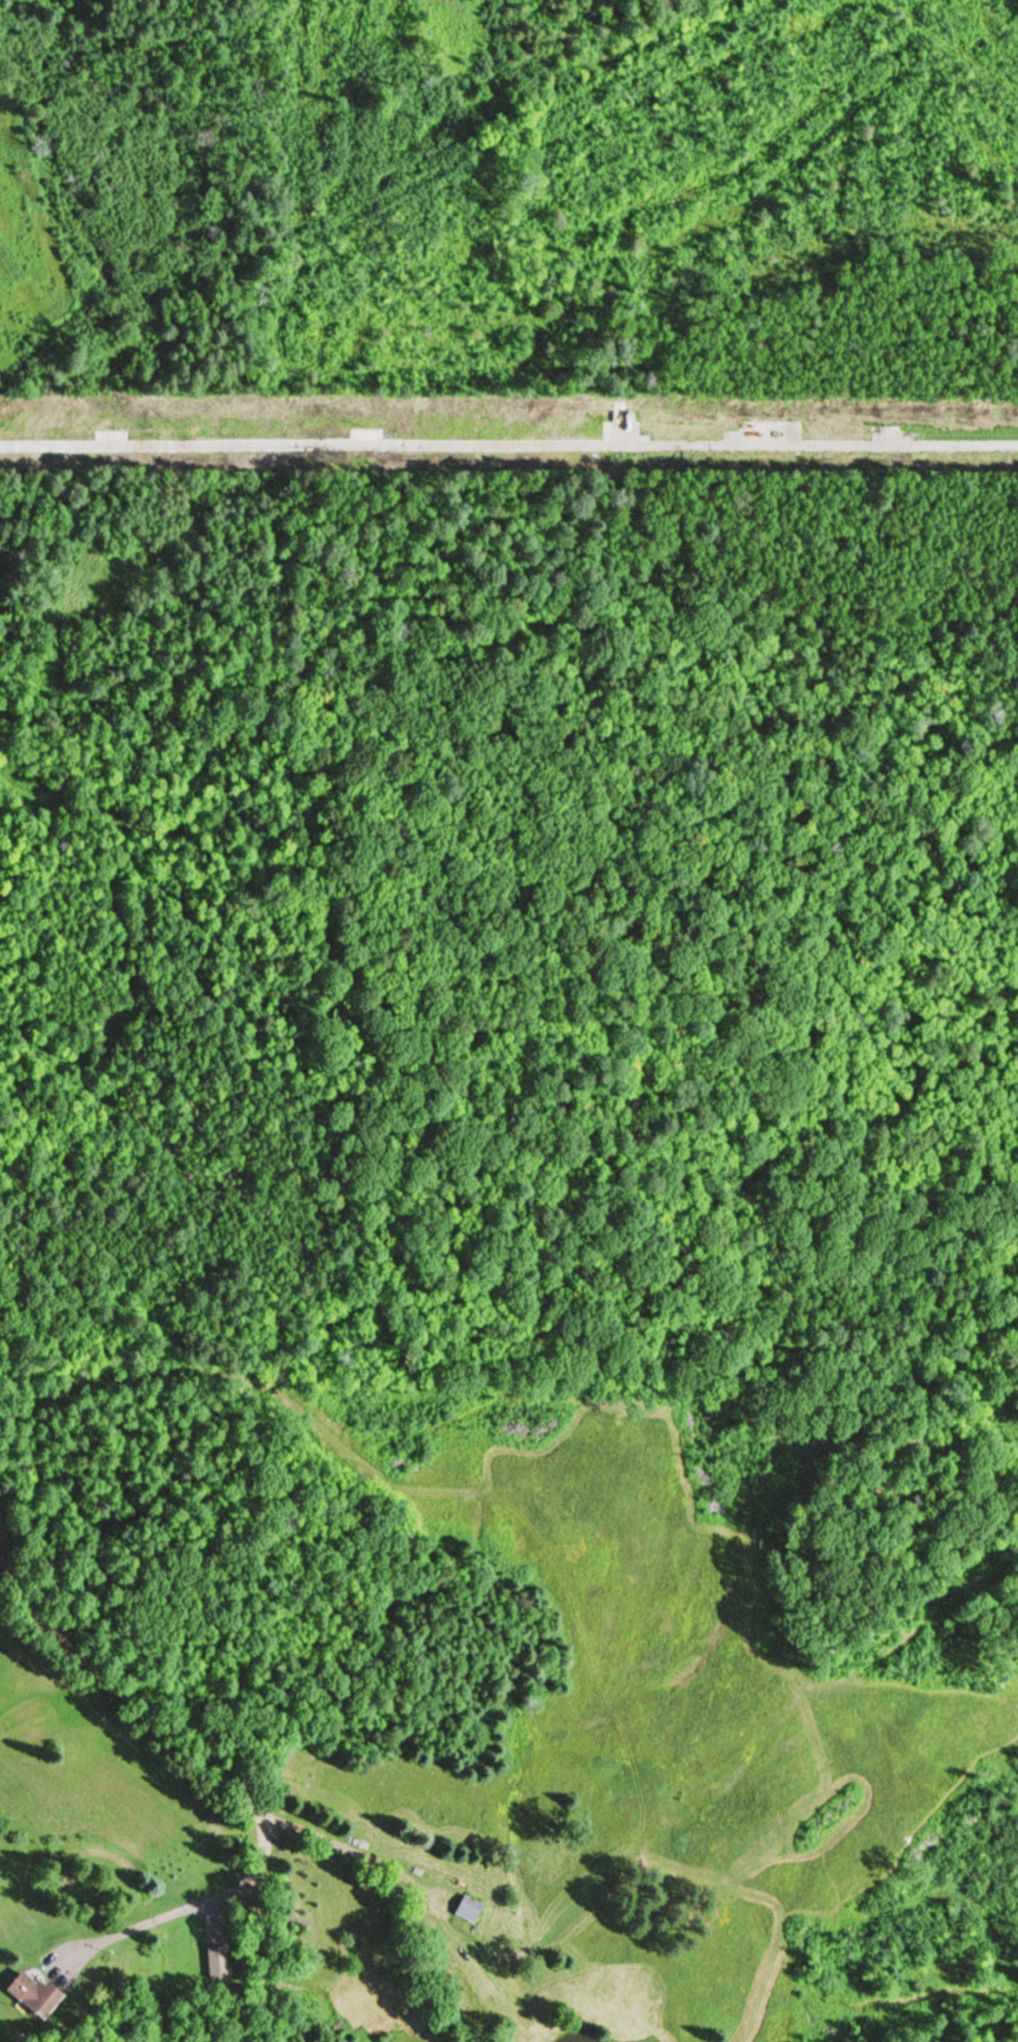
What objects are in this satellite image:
road: (125, 1727)
building: (462, 1908)
building: (423, 1920)
building: (216, 1962)
building: (22, 1992)

